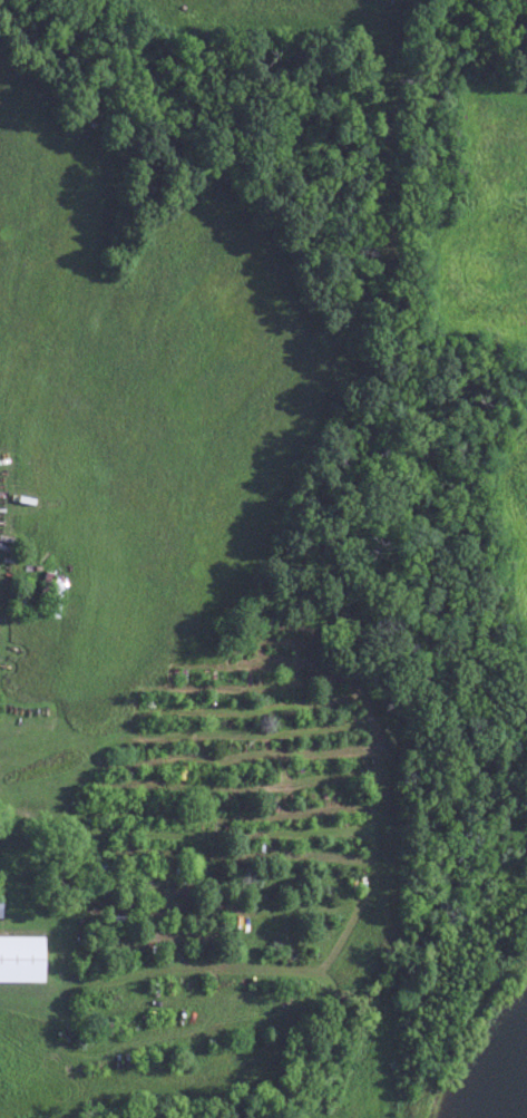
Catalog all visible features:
building: (1, 904)
building: (21, 957)

